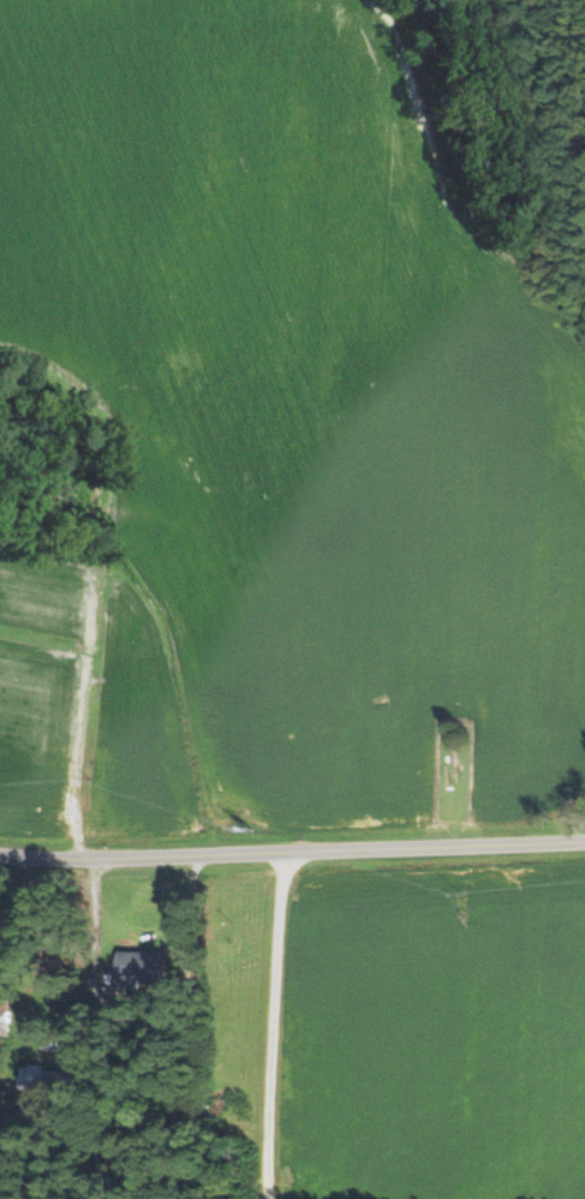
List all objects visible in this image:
road: (291, 845)
building: (20, 941)
building: (142, 968)
building: (5, 1013)
road: (274, 1021)
building: (44, 1085)

